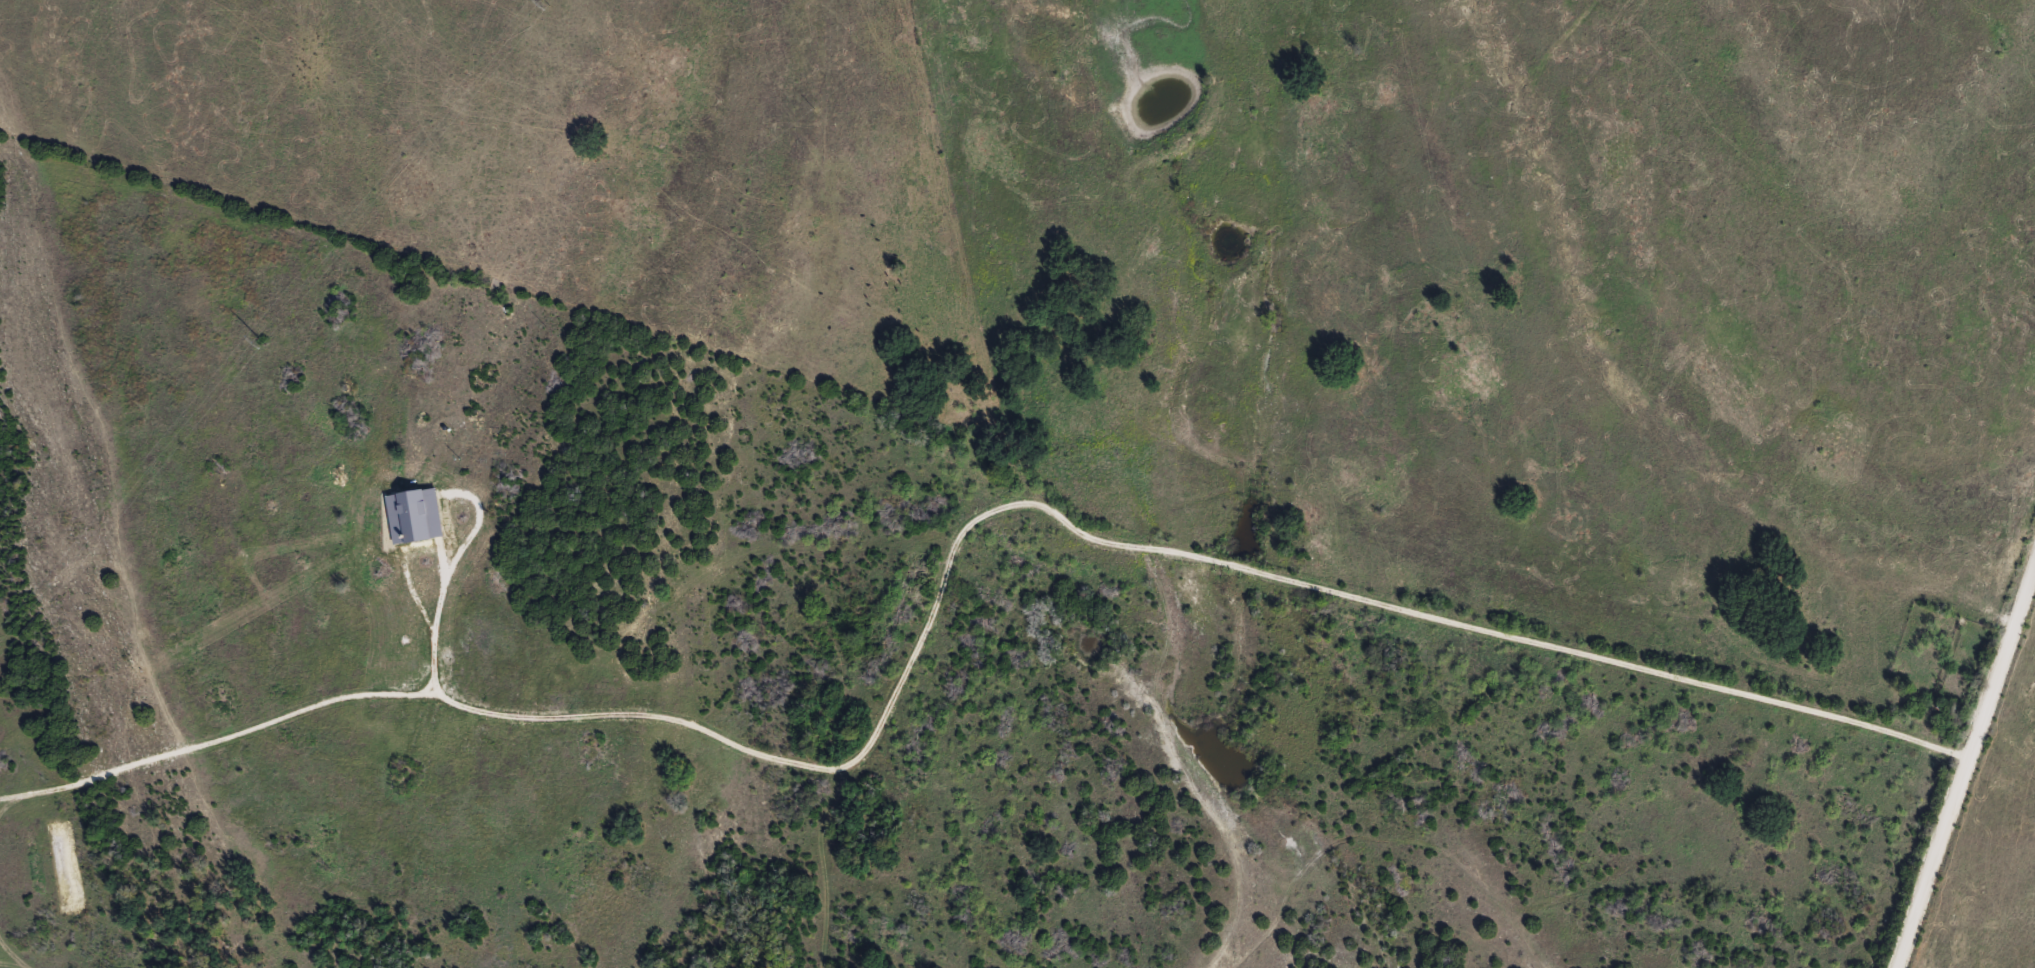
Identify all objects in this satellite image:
power tower: (546, 0)
power tower: (262, 340)
road: (1458, 635)
road: (1958, 761)

